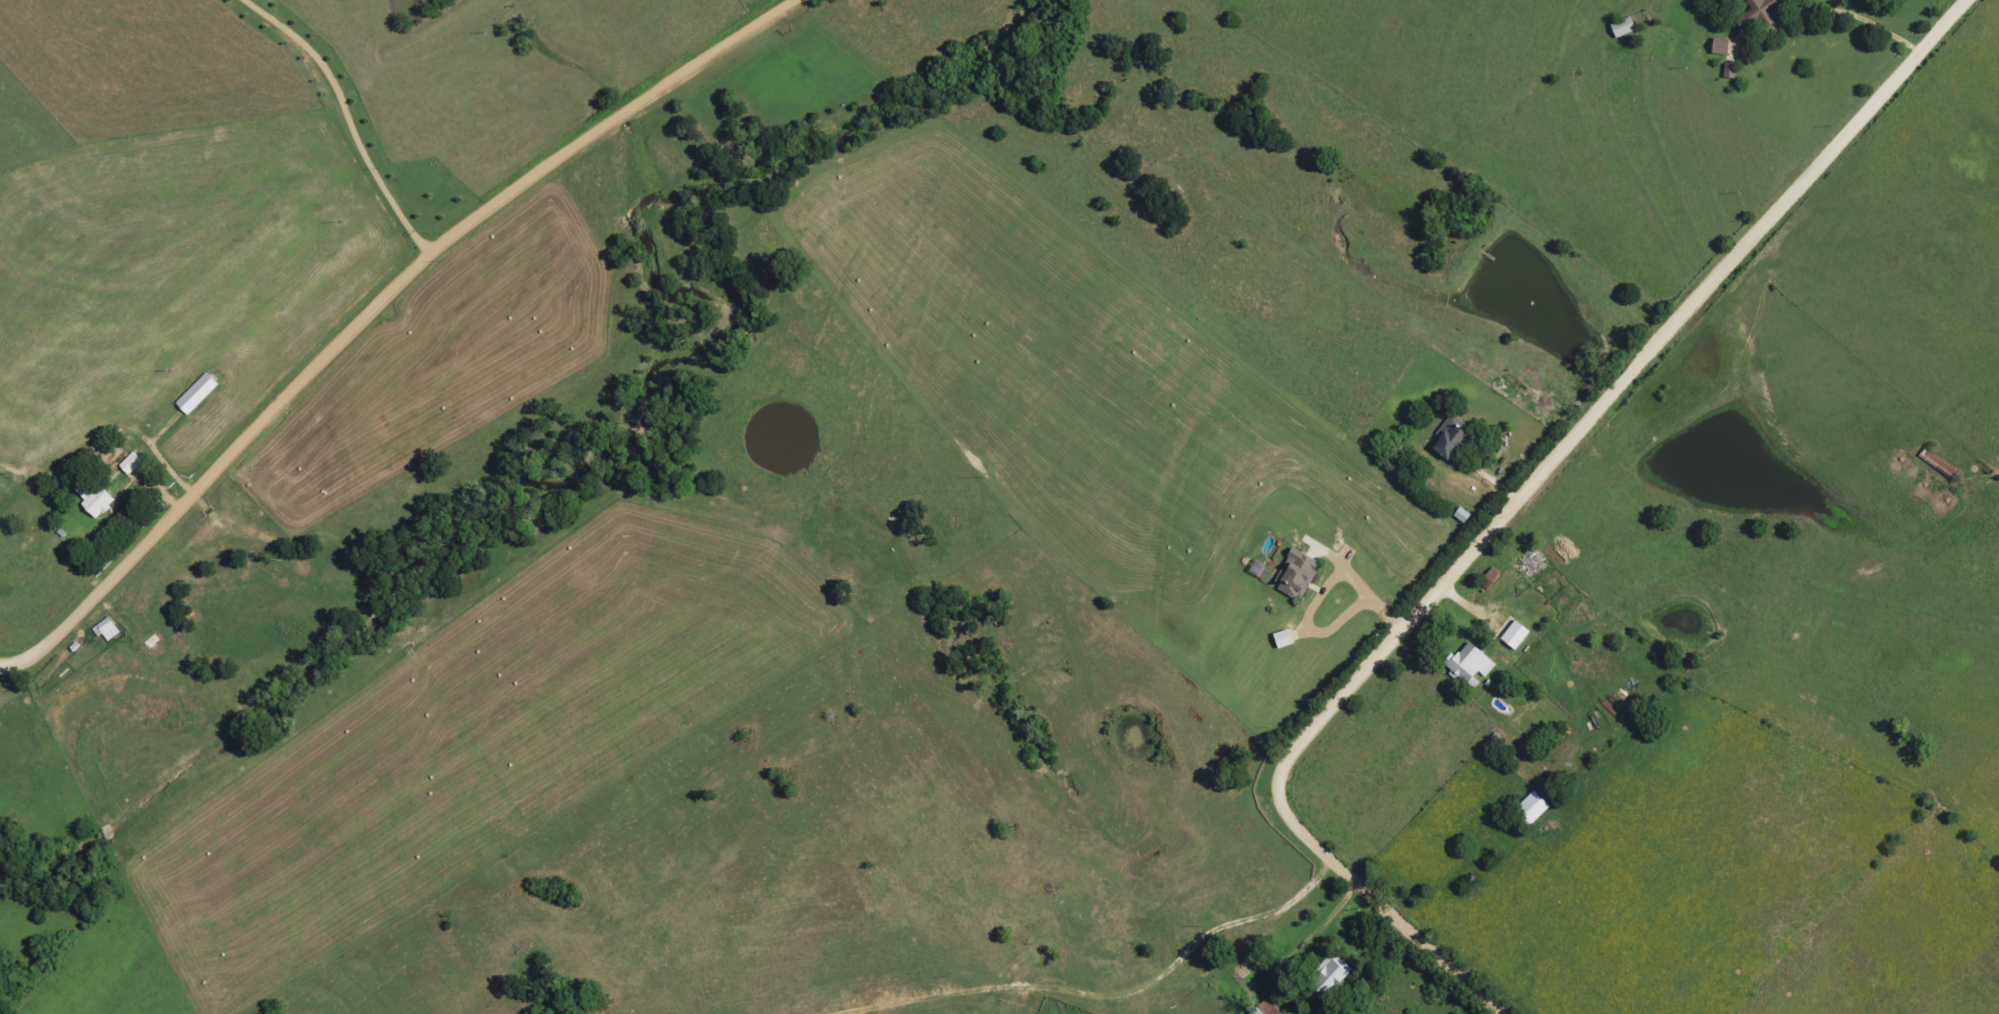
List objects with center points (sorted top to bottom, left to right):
building: (1755, 13)
building: (1718, 47)
road: (351, 118)
road: (371, 308)
building: (195, 395)
building: (1445, 442)
building: (129, 465)
building: (96, 503)
road: (1512, 508)
building: (1294, 576)
building: (105, 631)
building: (1513, 636)
building: (1280, 640)
building: (1467, 666)
road: (20, 696)
building: (1529, 810)
building: (1325, 979)
building: (1264, 1008)

